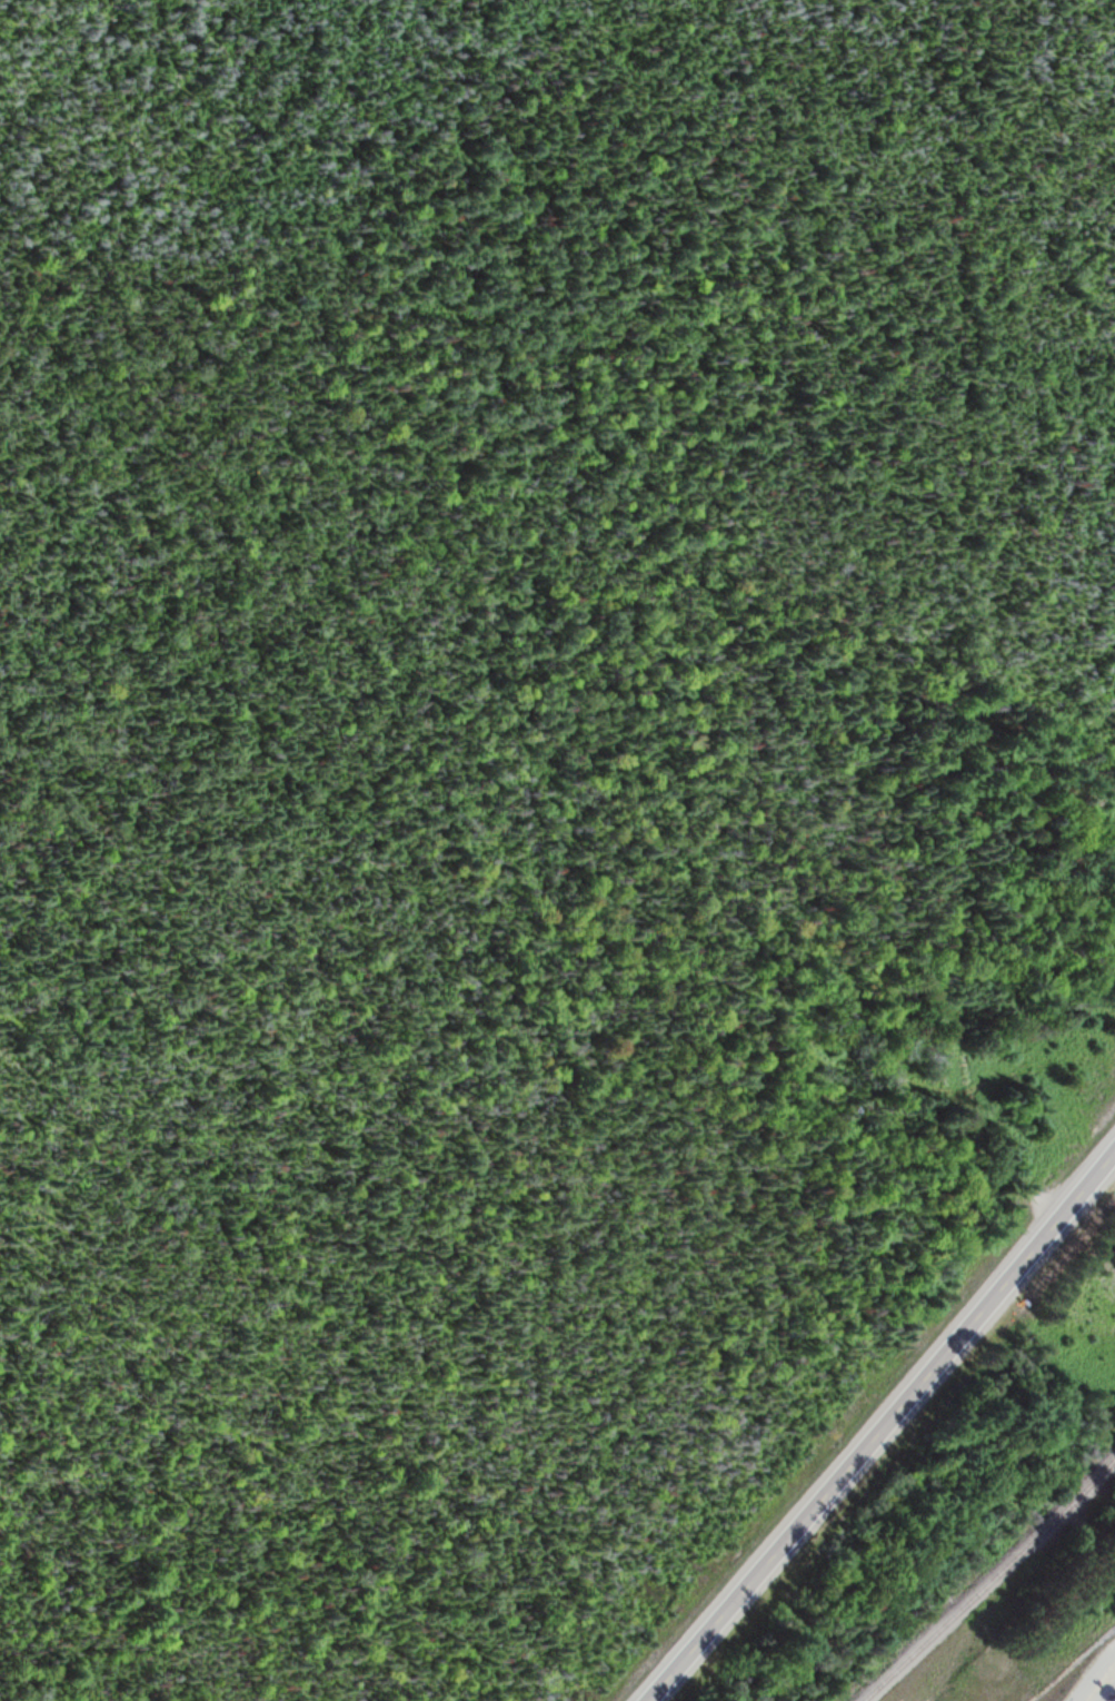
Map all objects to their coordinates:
road: (880, 1430)
railway: (990, 1582)
road: (1091, 1683)

